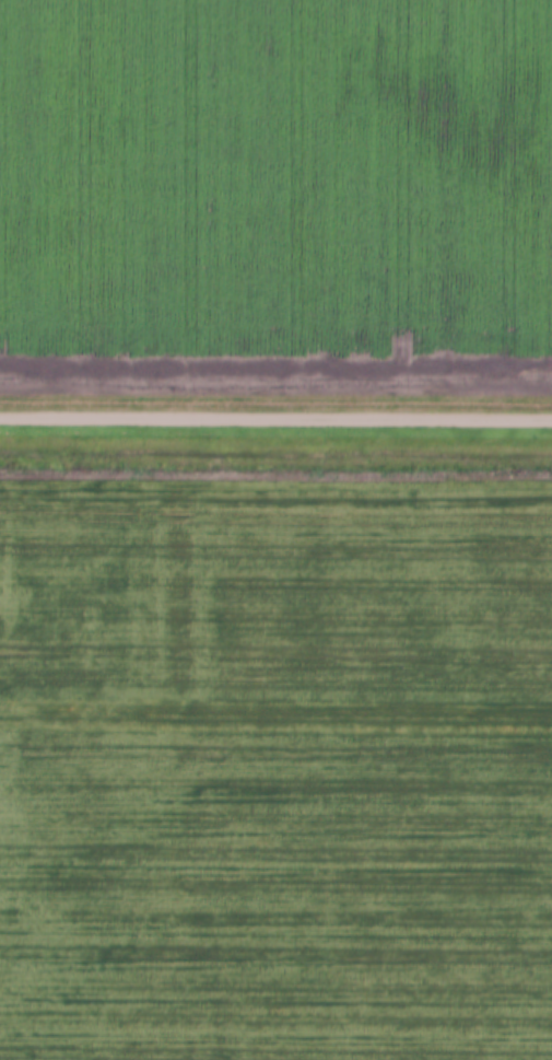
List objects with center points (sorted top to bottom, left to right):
road: (275, 423)

